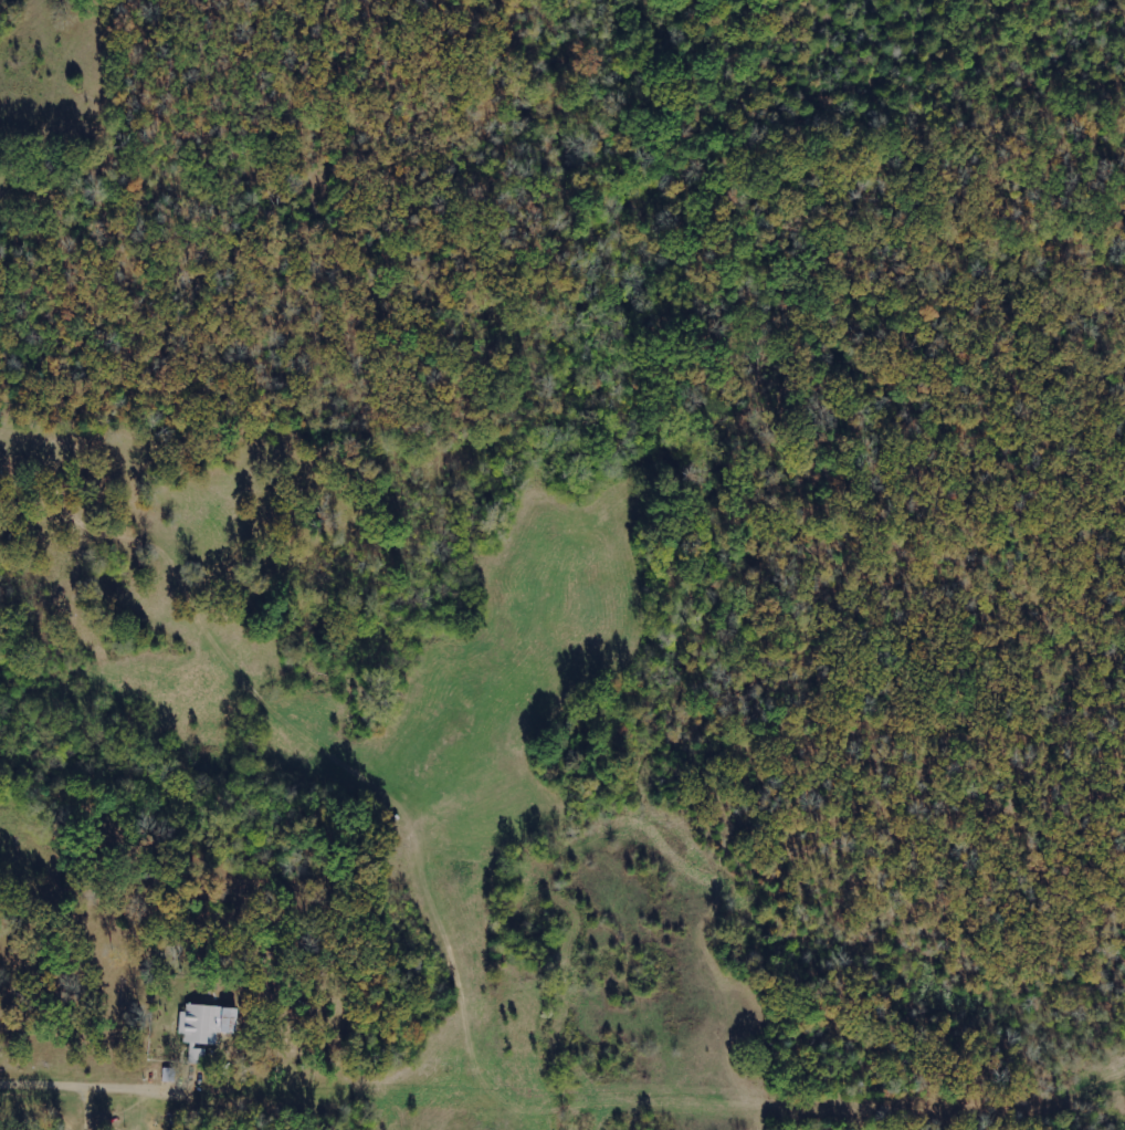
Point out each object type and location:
park: (698, 414)
building: (206, 1028)

